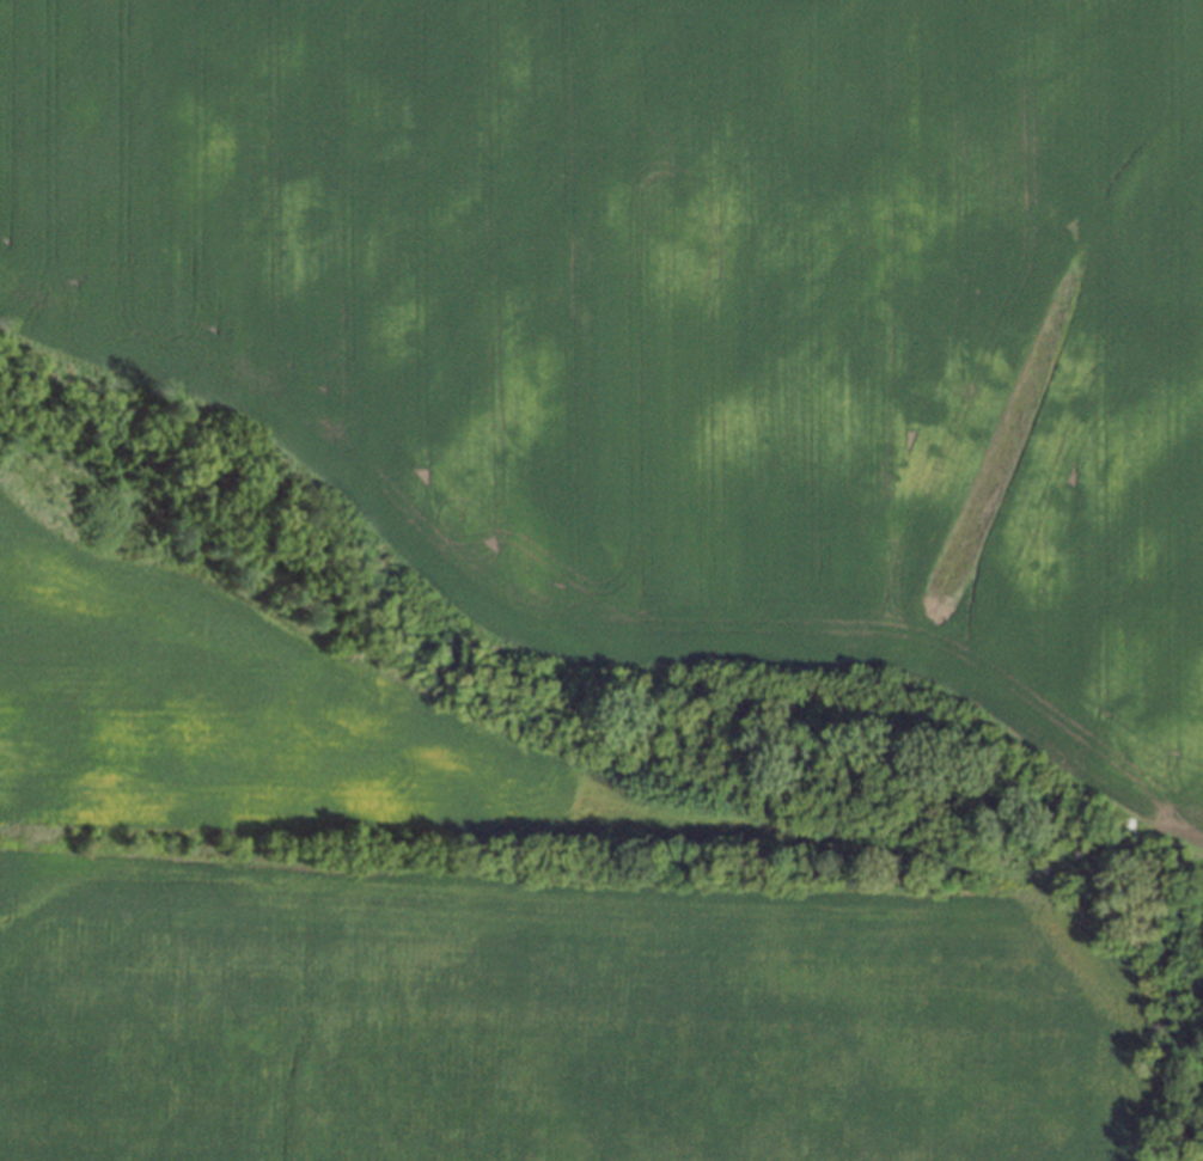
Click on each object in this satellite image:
crop: (676, 319)

